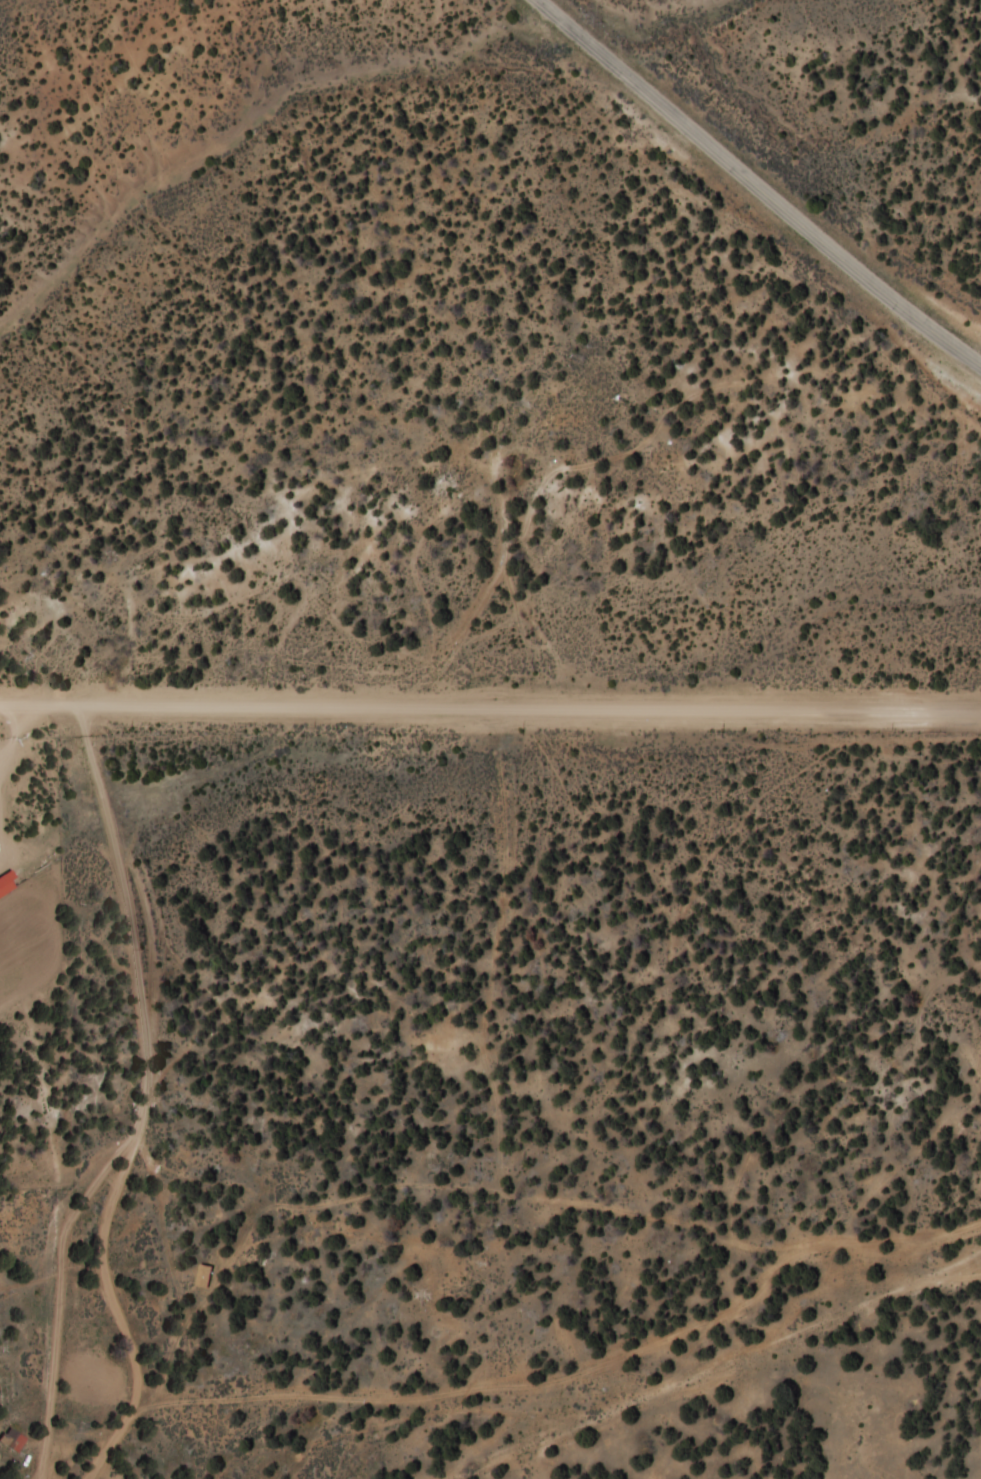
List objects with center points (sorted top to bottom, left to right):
road: (767, 175)
road: (490, 703)
building: (5, 881)
road: (160, 1046)
building: (201, 1276)
road: (63, 1292)
road: (357, 1389)
building: (9, 1440)

